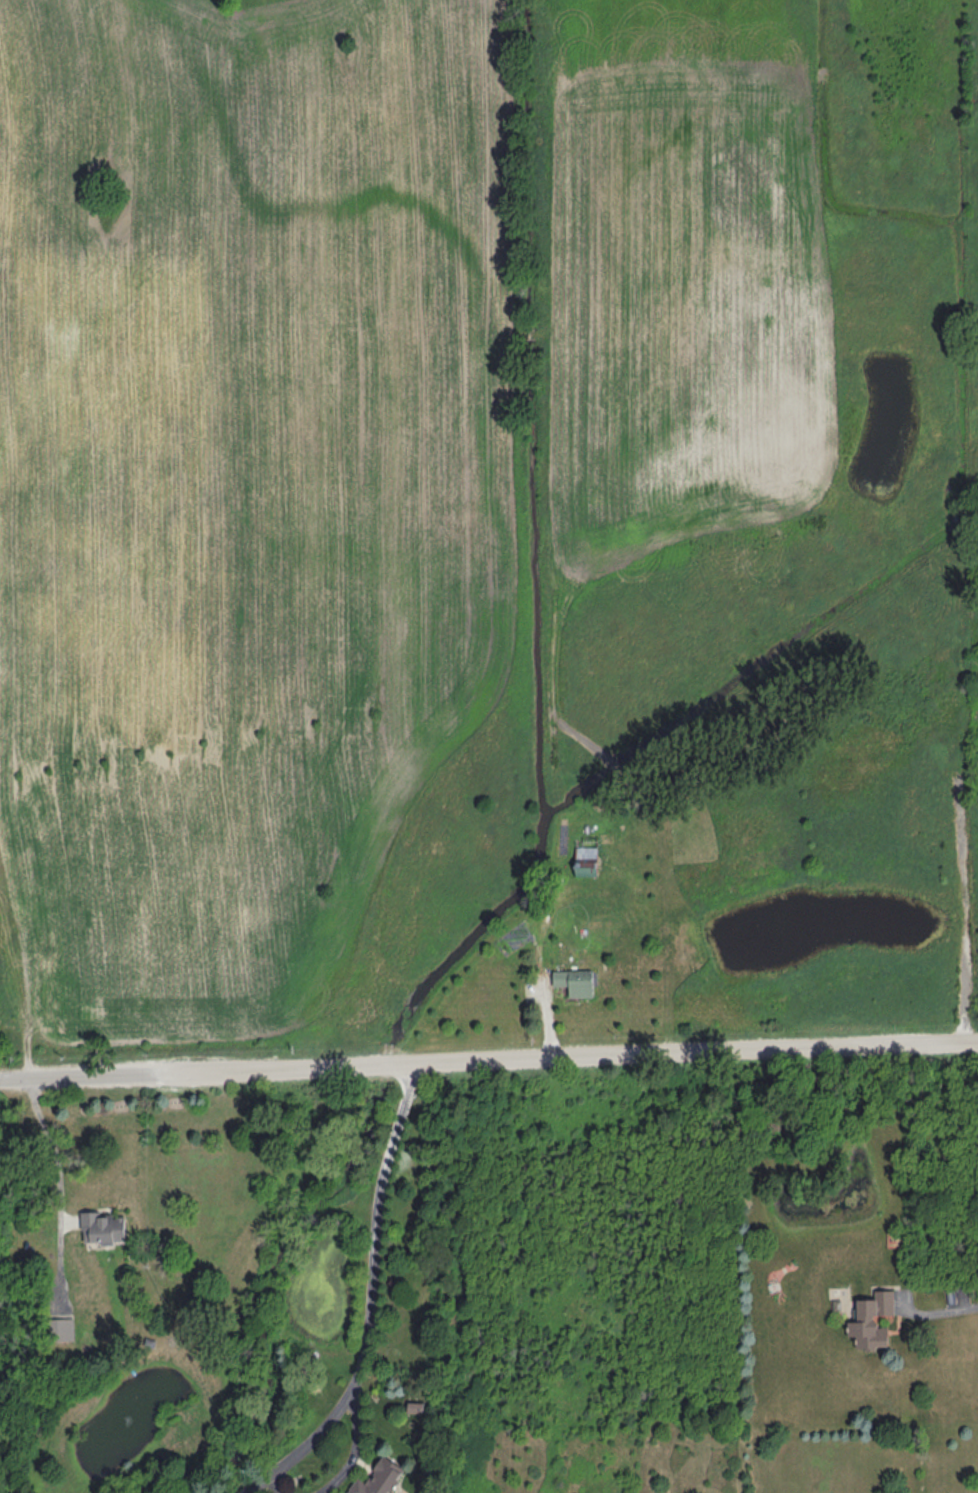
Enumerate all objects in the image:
building: (588, 862)
building: (576, 983)
road: (581, 1056)
road: (92, 1080)
road: (59, 1168)
building: (105, 1229)
road: (368, 1297)
road: (939, 1313)
building: (867, 1317)
road: (355, 1447)
building: (380, 1478)
road: (276, 1483)

